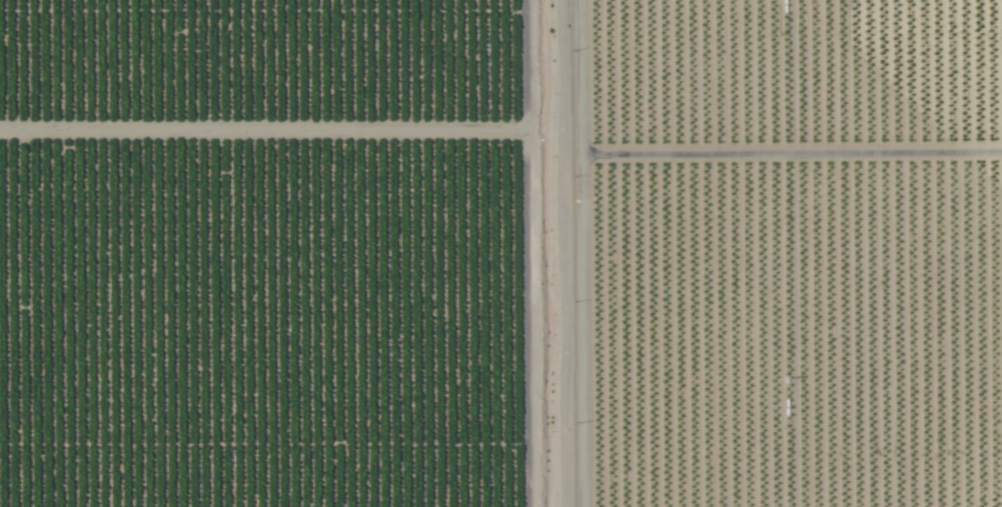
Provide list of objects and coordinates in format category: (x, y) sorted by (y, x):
road: (563, 253)

